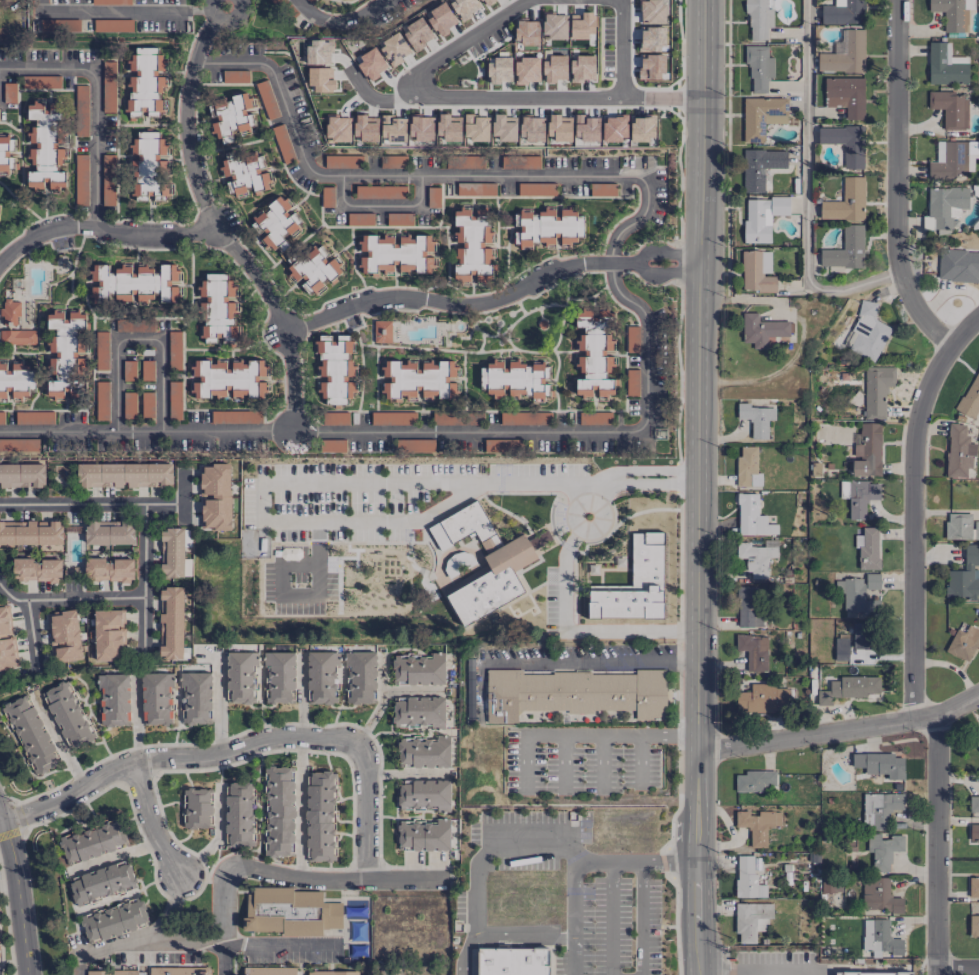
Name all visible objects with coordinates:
building: (347, 0)
building: (310, 1)
building: (111, 2)
building: (486, 2)
building: (464, 7)
road: (119, 10)
building: (652, 12)
building: (844, 13)
building: (952, 13)
building: (440, 19)
building: (758, 19)
road: (225, 21)
road: (338, 21)
building: (554, 25)
building: (582, 25)
road: (210, 29)
building: (526, 32)
building: (417, 34)
building: (654, 39)
building: (394, 47)
road: (622, 48)
building: (317, 52)
building: (845, 55)
building: (369, 61)
building: (946, 66)
building: (654, 67)
building: (758, 67)
building: (555, 69)
building: (582, 69)
building: (499, 70)
building: (526, 70)
building: (235, 77)
building: (320, 79)
building: (40, 82)
building: (145, 82)
building: (108, 86)
road: (363, 93)
building: (846, 96)
road: (437, 97)
road: (662, 97)
building: (267, 99)
road: (92, 103)
building: (950, 109)
building: (81, 110)
building: (232, 117)
building: (762, 117)
building: (420, 127)
building: (476, 127)
building: (504, 127)
building: (365, 128)
building: (392, 128)
building: (449, 128)
building: (531, 128)
building: (586, 128)
building: (614, 128)
building: (337, 129)
building: (560, 130)
building: (283, 143)
building: (845, 143)
building: (46, 148)
building: (7, 153)
building: (952, 159)
building: (343, 162)
building: (392, 162)
building: (527, 162)
building: (148, 167)
building: (760, 167)
building: (244, 173)
road: (425, 174)
building: (81, 180)
building: (108, 180)
road: (896, 183)
building: (465, 189)
road: (806, 190)
building: (846, 201)
road: (381, 206)
building: (944, 207)
building: (762, 217)
building: (360, 219)
building: (399, 219)
building: (276, 225)
building: (549, 227)
road: (190, 230)
building: (472, 245)
building: (845, 250)
road: (665, 252)
building: (396, 255)
building: (958, 265)
building: (312, 269)
building: (757, 272)
road: (665, 273)
building: (126, 284)
building: (166, 284)
road: (445, 301)
building: (217, 310)
building: (13, 325)
building: (134, 325)
building: (761, 330)
building: (382, 331)
building: (868, 332)
road: (137, 341)
building: (174, 350)
building: (66, 352)
building: (101, 352)
building: (594, 354)
building: (978, 366)
building: (129, 370)
building: (147, 370)
building: (334, 371)
building: (228, 379)
building: (515, 379)
building: (419, 380)
building: (15, 381)
building: (632, 382)
building: (877, 390)
building: (970, 399)
building: (174, 400)
building: (102, 401)
building: (129, 405)
building: (147, 405)
building: (334, 417)
building: (525, 417)
building: (19, 418)
building: (594, 418)
building: (756, 419)
road: (144, 432)
road: (457, 434)
building: (19, 446)
building: (411, 447)
building: (867, 451)
building: (959, 451)
road: (700, 460)
building: (748, 467)
road: (664, 470)
building: (22, 475)
building: (124, 475)
road: (616, 476)
road: (616, 482)
road: (664, 483)
road: (299, 486)
road: (586, 490)
road: (183, 496)
building: (215, 497)
building: (860, 498)
road: (91, 502)
building: (751, 517)
building: (958, 526)
road: (579, 529)
building: (976, 530)
building: (109, 532)
building: (30, 533)
building: (544, 538)
building: (869, 549)
building: (172, 552)
building: (753, 560)
building: (508, 565)
building: (109, 569)
building: (36, 570)
building: (965, 577)
road: (144, 578)
building: (635, 584)
building: (861, 594)
road: (69, 598)
building: (749, 606)
building: (171, 623)
road: (577, 630)
road: (32, 634)
building: (107, 634)
building: (862, 635)
building: (64, 636)
building: (5, 638)
road: (913, 643)
building: (963, 643)
building: (841, 649)
building: (753, 651)
road: (591, 660)
building: (419, 670)
building: (241, 677)
building: (280, 677)
building: (322, 677)
building: (361, 677)
building: (848, 688)
building: (575, 693)
building: (196, 697)
building: (762, 698)
building: (114, 699)
building: (156, 699)
road: (376, 705)
building: (419, 712)
road: (840, 730)
building: (32, 735)
road: (584, 735)
building: (977, 741)
road: (59, 745)
building: (424, 752)
road: (641, 760)
road: (177, 761)
road: (565, 761)
road: (602, 762)
building: (880, 764)
building: (755, 781)
building: (425, 794)
building: (974, 804)
building: (198, 809)
road: (299, 810)
building: (880, 810)
building: (279, 812)
building: (239, 814)
road: (366, 814)
building: (320, 816)
road: (2, 821)
road: (153, 825)
building: (758, 825)
building: (974, 833)
building: (423, 834)
building: (93, 842)
road: (488, 849)
building: (883, 850)
road: (670, 859)
road: (300, 880)
building: (748, 880)
road: (572, 882)
building: (102, 883)
building: (831, 886)
building: (974, 888)
road: (17, 893)
building: (880, 896)
building: (290, 913)
road: (611, 917)
road: (642, 917)
building: (752, 920)
building: (115, 921)
building: (974, 927)
road: (147, 933)
road: (508, 936)
road: (558, 937)
building: (880, 938)
road: (181, 940)
road: (278, 943)
road: (506, 944)
road: (698, 947)
road: (223, 958)
road: (464, 960)
building: (514, 961)
road: (724, 969)
road: (785, 970)
building: (179, 971)
building: (269, 971)
building: (111, 972)
road: (748, 972)
road: (958, 972)
building: (332, 973)
building: (871, 973)

